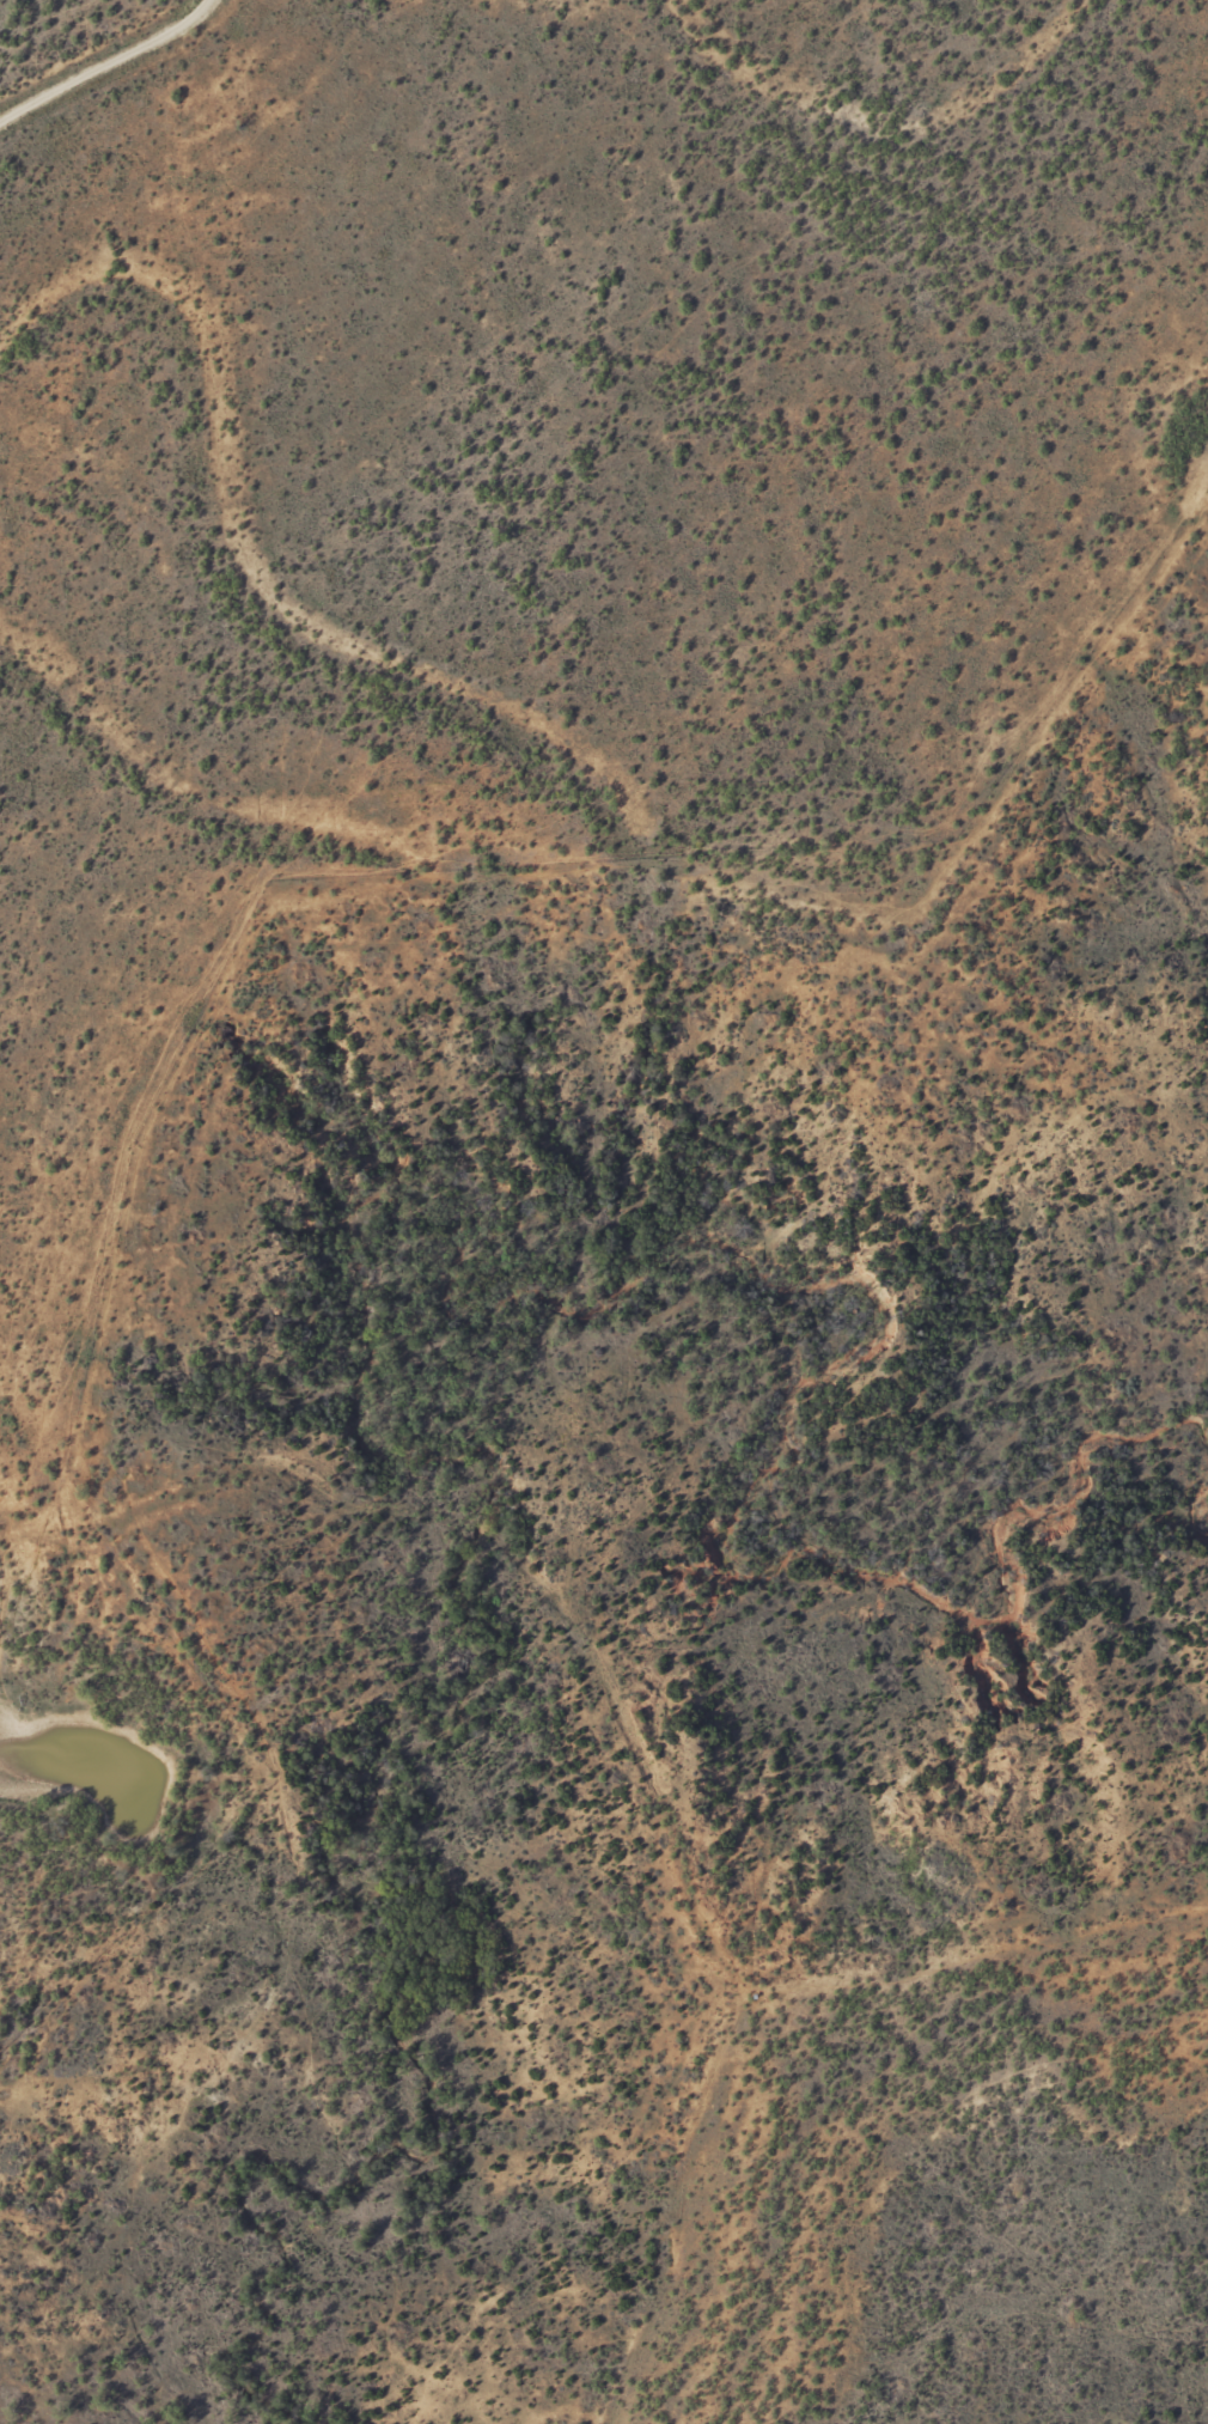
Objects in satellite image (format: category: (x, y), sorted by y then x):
road: (98, 83)
road: (468, 1576)
road: (673, 2046)
road: (85, 2418)

